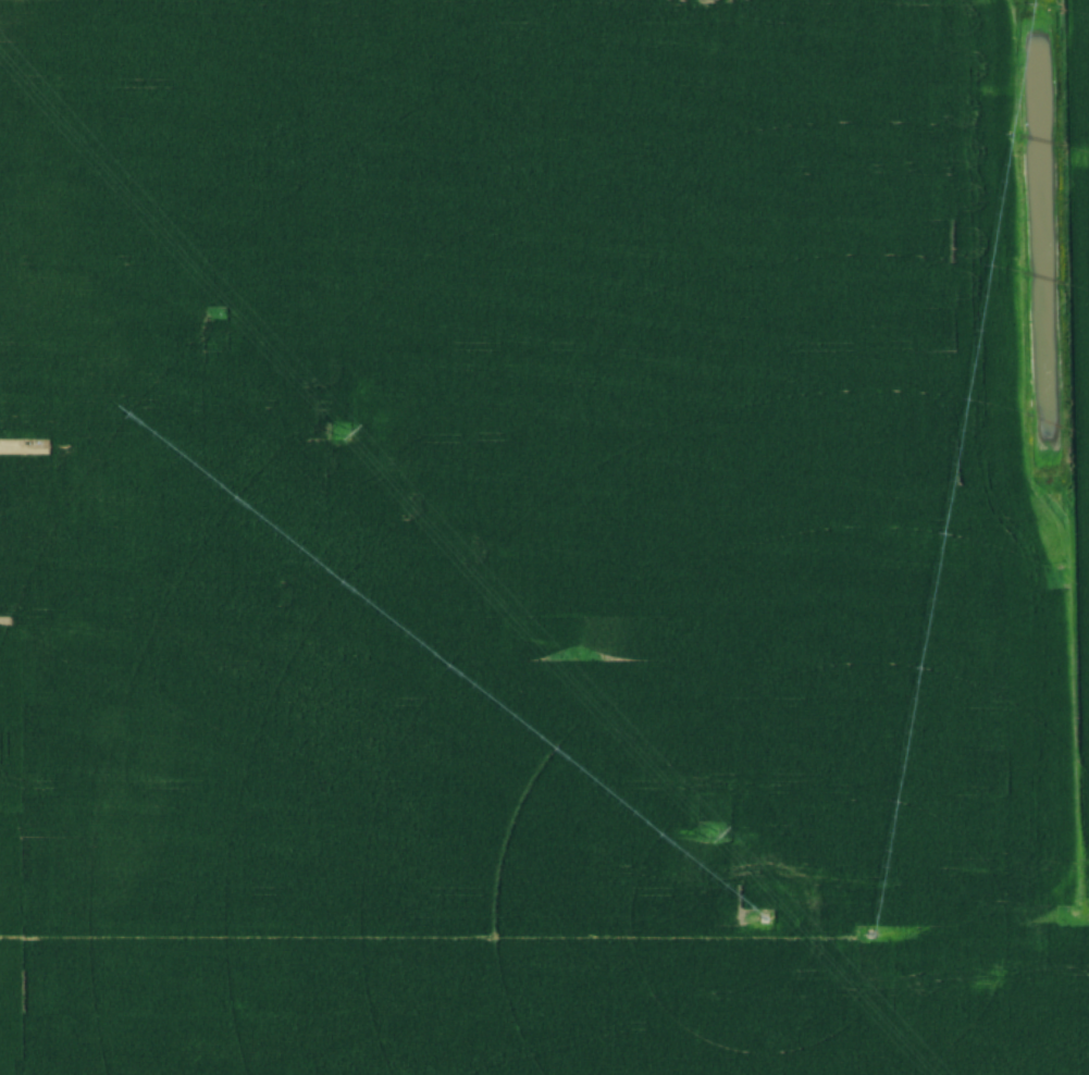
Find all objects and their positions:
power tower: (339, 432)
power tower: (709, 836)

